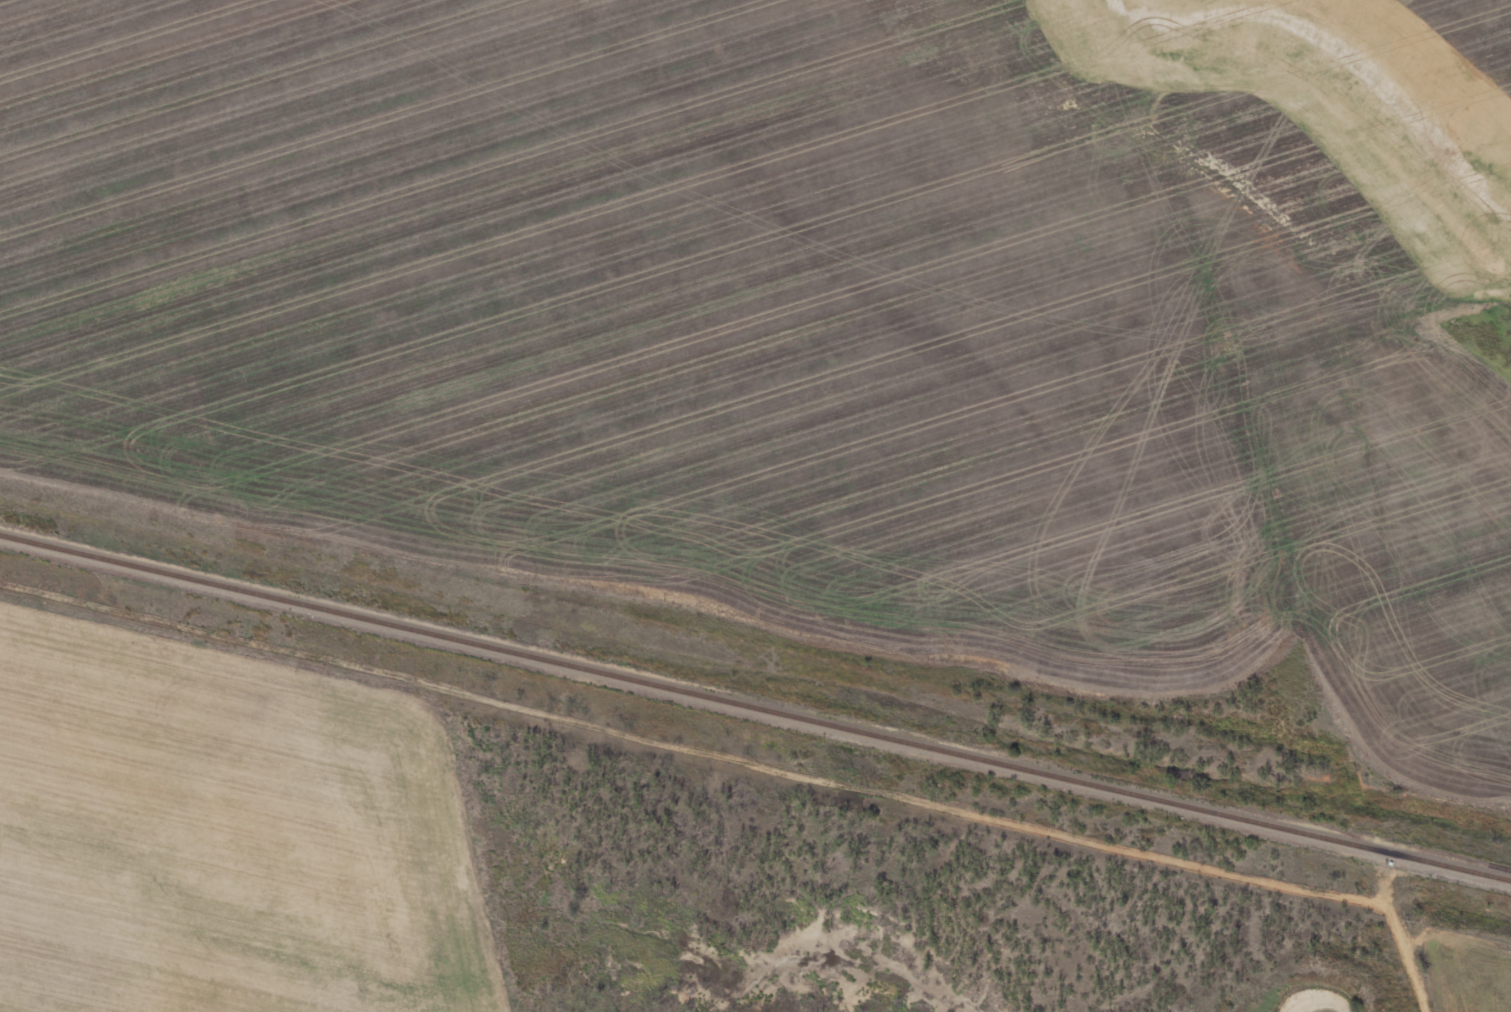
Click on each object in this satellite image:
road: (1179, 182)
railway: (755, 707)

